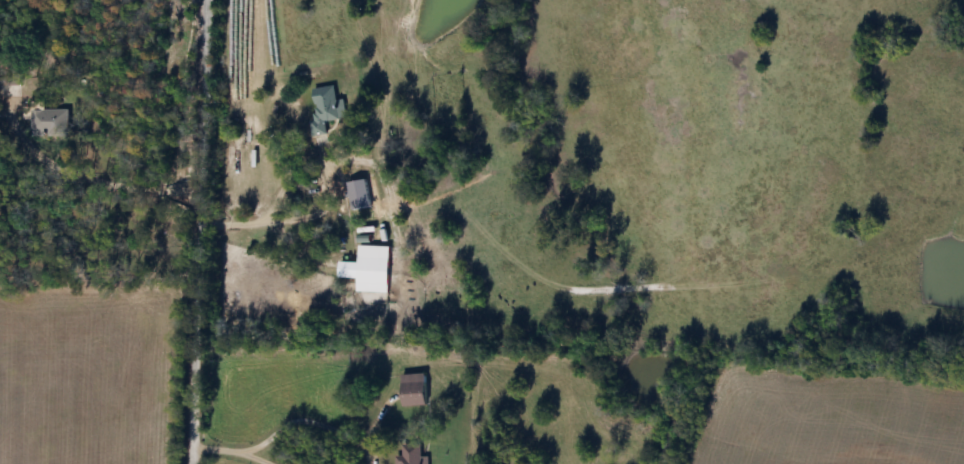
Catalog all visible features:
building: (323, 109)
building: (51, 122)
road: (379, 173)
road: (109, 181)
road: (325, 202)
road: (198, 231)
building: (366, 268)
building: (410, 390)
road: (309, 422)
road: (217, 447)
building: (409, 455)
road: (257, 457)

